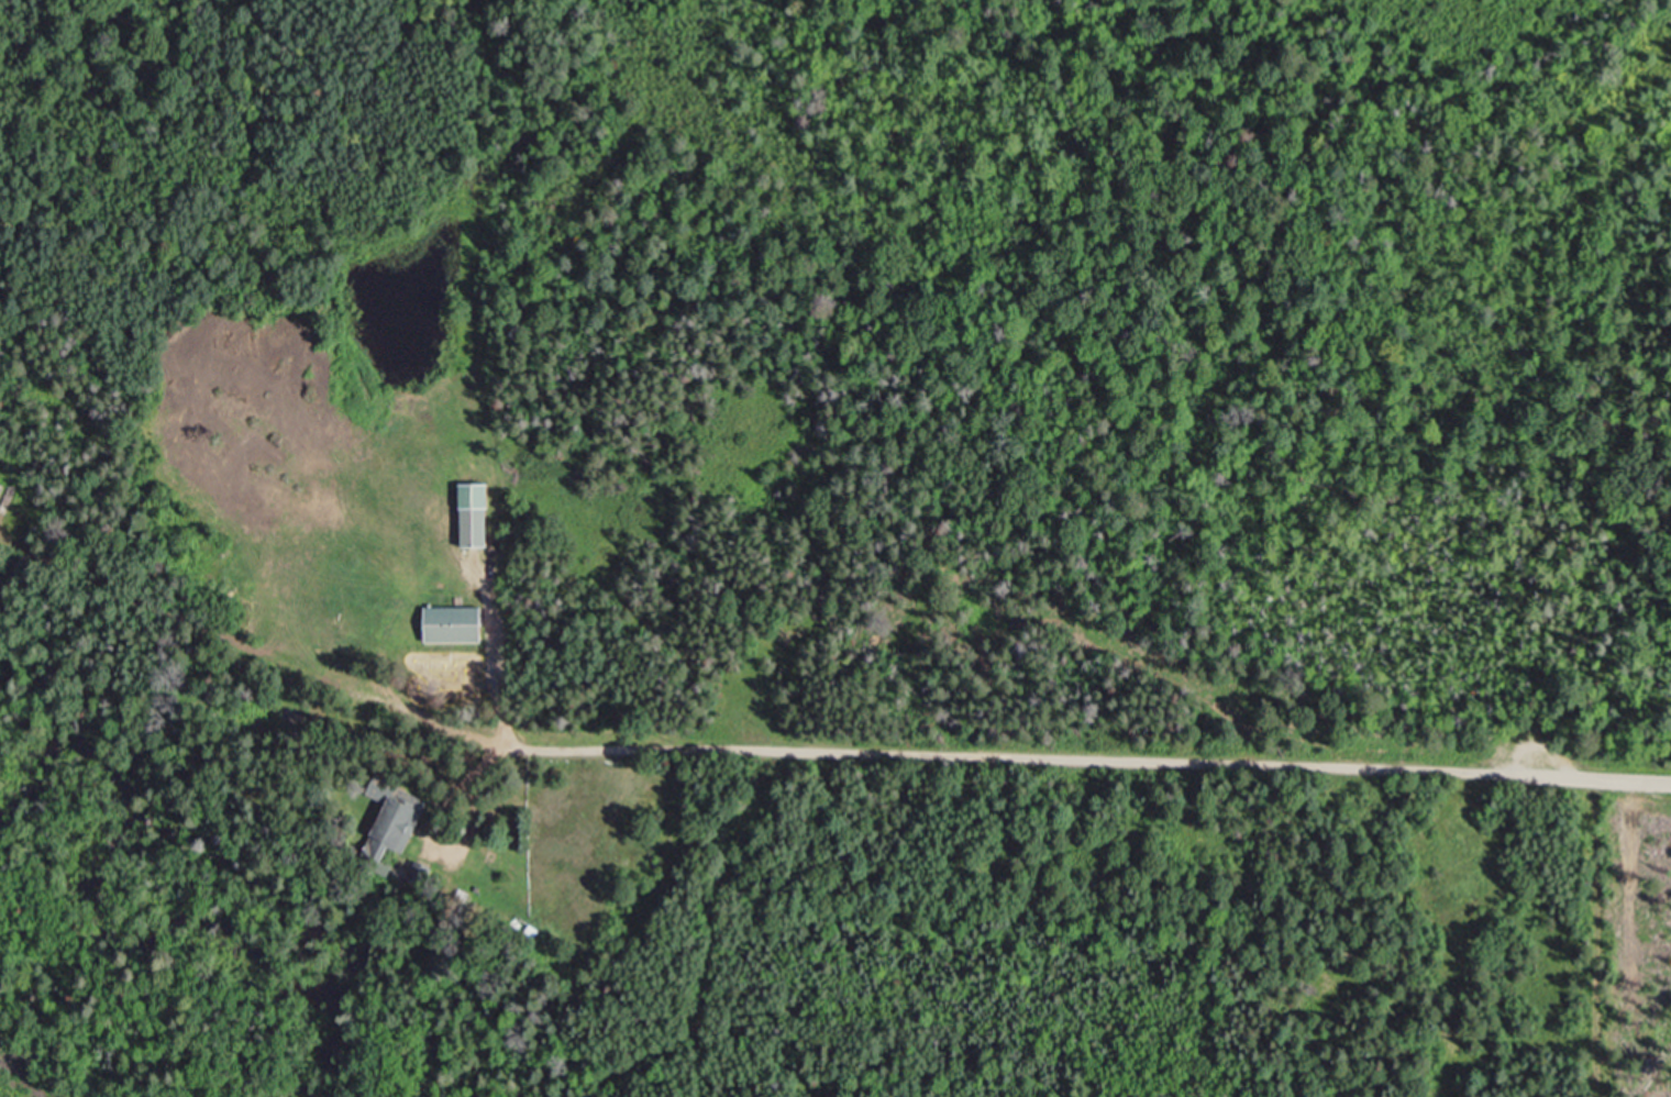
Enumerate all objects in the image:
building: (476, 516)
building: (456, 624)
road: (1092, 760)
building: (396, 830)
building: (424, 872)
building: (528, 930)

